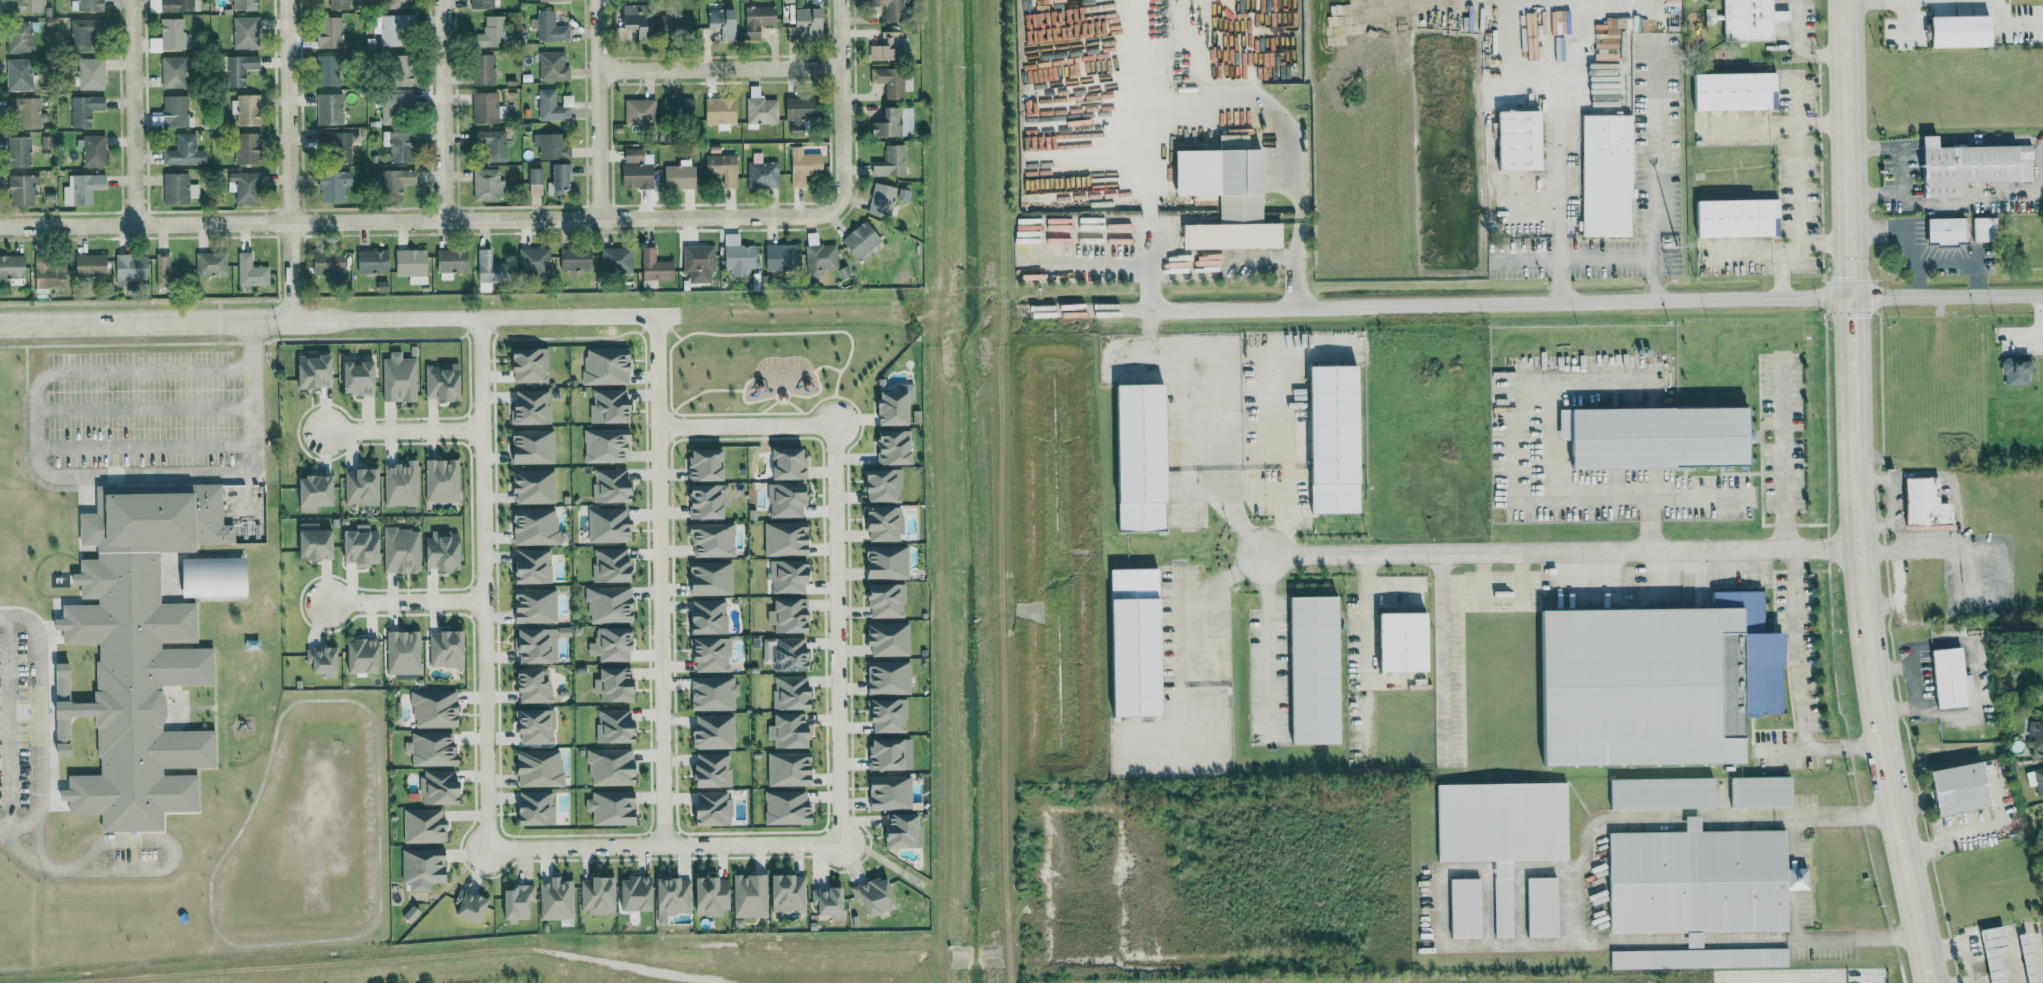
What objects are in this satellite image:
building: (551, 0)
road: (1912, 0)
building: (338, 4)
building: (400, 4)
building: (485, 4)
building: (90, 5)
building: (177, 5)
building: (245, 5)
building: (27, 6)
building: (888, 8)
building: (631, 18)
building: (753, 19)
building: (804, 19)
building: (1747, 19)
building: (680, 22)
building: (720, 22)
building: (1553, 22)
road: (1907, 22)
road: (2009, 24)
building: (546, 26)
building: (394, 30)
building: (1952, 30)
building: (487, 32)
building: (246, 33)
building: (332, 34)
building: (85, 35)
building: (169, 36)
building: (21, 37)
building: (1604, 42)
building: (885, 46)
road: (1800, 47)
building: (551, 66)
building: (480, 69)
building: (240, 70)
building: (395, 70)
road: (720, 70)
building: (176, 73)
building: (92, 74)
building: (18, 75)
building: (889, 82)
building: (1729, 90)
road: (1846, 90)
building: (324, 92)
road: (1179, 99)
road: (841, 101)
building: (393, 105)
building: (551, 105)
road: (1126, 106)
building: (482, 107)
building: (795, 108)
building: (243, 109)
road: (599, 109)
building: (676, 109)
building: (85, 110)
building: (172, 110)
building: (716, 110)
building: (759, 110)
road: (1247, 110)
building: (26, 111)
road: (443, 111)
building: (636, 111)
road: (133, 112)
building: (892, 122)
road: (1821, 124)
road: (1746, 125)
building: (1514, 139)
building: (490, 143)
building: (337, 145)
building: (549, 145)
building: (397, 146)
building: (243, 147)
building: (91, 150)
building: (16, 151)
building: (182, 151)
road: (289, 160)
building: (889, 161)
building: (1966, 165)
building: (801, 166)
building: (720, 167)
building: (633, 168)
road: (1906, 168)
building: (760, 172)
road: (1656, 173)
building: (1602, 174)
building: (676, 176)
building: (555, 177)
building: (533, 180)
building: (392, 182)
road: (1796, 183)
building: (483, 184)
building: (241, 186)
building: (327, 186)
building: (80, 188)
building: (176, 188)
building: (19, 189)
building: (902, 194)
building: (879, 199)
road: (1562, 209)
building: (1732, 217)
road: (421, 222)
building: (1979, 228)
building: (1941, 230)
road: (1912, 233)
building: (1228, 235)
building: (857, 239)
road: (1849, 239)
road: (1045, 249)
building: (735, 253)
road: (1750, 254)
building: (777, 256)
road: (1573, 257)
road: (1148, 258)
road: (1223, 258)
road: (1298, 258)
building: (571, 259)
building: (817, 259)
building: (448, 260)
building: (613, 260)
building: (324, 261)
building: (369, 261)
building: (531, 261)
building: (407, 262)
building: (696, 262)
building: (86, 264)
building: (207, 264)
building: (10, 266)
building: (651, 266)
building: (126, 267)
building: (159, 268)
road: (1962, 268)
building: (483, 269)
building: (248, 271)
building: (46, 273)
road: (1782, 277)
road: (1946, 296)
road: (1435, 304)
road: (327, 320)
road: (1851, 355)
building: (524, 363)
building: (602, 365)
building: (306, 370)
building: (2011, 370)
road: (656, 371)
building: (351, 377)
building: (396, 377)
road: (1595, 379)
building: (437, 381)
building: (888, 404)
building: (605, 405)
building: (526, 407)
road: (144, 409)
road: (745, 426)
road: (35, 428)
road: (402, 430)
building: (1648, 436)
building: (602, 445)
building: (528, 446)
building: (887, 446)
road: (1782, 450)
building: (1133, 454)
road: (1512, 454)
building: (782, 463)
building: (699, 464)
road: (145, 475)
building: (439, 480)
building: (398, 484)
building: (607, 485)
building: (878, 485)
building: (357, 486)
building: (529, 486)
building: (308, 490)
road: (1594, 496)
building: (702, 500)
building: (782, 500)
building: (1921, 503)
road: (1227, 511)
building: (878, 523)
road: (1648, 524)
building: (605, 525)
building: (532, 527)
building: (780, 539)
building: (708, 540)
building: (308, 541)
building: (356, 545)
road: (1927, 548)
building: (399, 550)
building: (439, 550)
road: (1558, 552)
building: (881, 562)
building: (605, 564)
building: (527, 567)
building: (204, 576)
building: (783, 576)
building: (705, 578)
road: (1220, 578)
road: (481, 583)
road: (1394, 593)
building: (881, 599)
road: (404, 601)
building: (606, 604)
building: (529, 605)
building: (783, 613)
road: (1982, 614)
building: (703, 617)
road: (1179, 622)
road: (659, 624)
road: (836, 634)
building: (884, 638)
road: (1365, 641)
building: (1394, 641)
building: (1128, 642)
building: (607, 644)
building: (169, 645)
building: (531, 645)
building: (441, 648)
road: (1268, 648)
road: (1795, 650)
building: (400, 652)
building: (781, 653)
building: (705, 654)
building: (356, 655)
building: (137, 656)
road: (1441, 659)
building: (316, 660)
building: (1307, 669)
building: (884, 677)
building: (1946, 678)
building: (1648, 681)
building: (610, 683)
building: (528, 685)
road: (1914, 685)
road: (1872, 687)
building: (2042, 690)
building: (785, 692)
building: (708, 693)
building: (431, 709)
building: (883, 715)
building: (610, 725)
road: (38, 726)
building: (531, 726)
building: (785, 730)
building: (709, 731)
building: (2035, 734)
road: (1817, 747)
building: (427, 748)
building: (881, 754)
building: (606, 766)
building: (535, 767)
building: (783, 768)
building: (706, 770)
building: (2035, 779)
building: (434, 786)
building: (1954, 788)
building: (1758, 791)
building: (885, 792)
building: (1658, 793)
building: (607, 807)
building: (782, 807)
building: (530, 808)
building: (706, 809)
track: (246, 814)
road: (1713, 818)
building: (419, 825)
building: (897, 831)
building: (1499, 831)
road: (662, 834)
road: (1949, 835)
road: (664, 845)
road: (169, 846)
road: (39, 848)
road: (35, 865)
building: (419, 865)
road: (1503, 869)
road: (1793, 878)
building: (1695, 881)
building: (630, 893)
building: (782, 893)
building: (746, 895)
building: (596, 896)
building: (707, 896)
building: (869, 897)
building: (668, 898)
building: (554, 899)
building: (513, 902)
building: (825, 903)
road: (1568, 905)
road: (1520, 906)
building: (465, 907)
road: (1439, 907)
road: (1486, 907)
building: (1537, 907)
building: (1460, 908)
road: (1679, 941)
building: (1989, 952)
building: (1697, 958)
building: (2023, 958)
road: (1927, 970)

